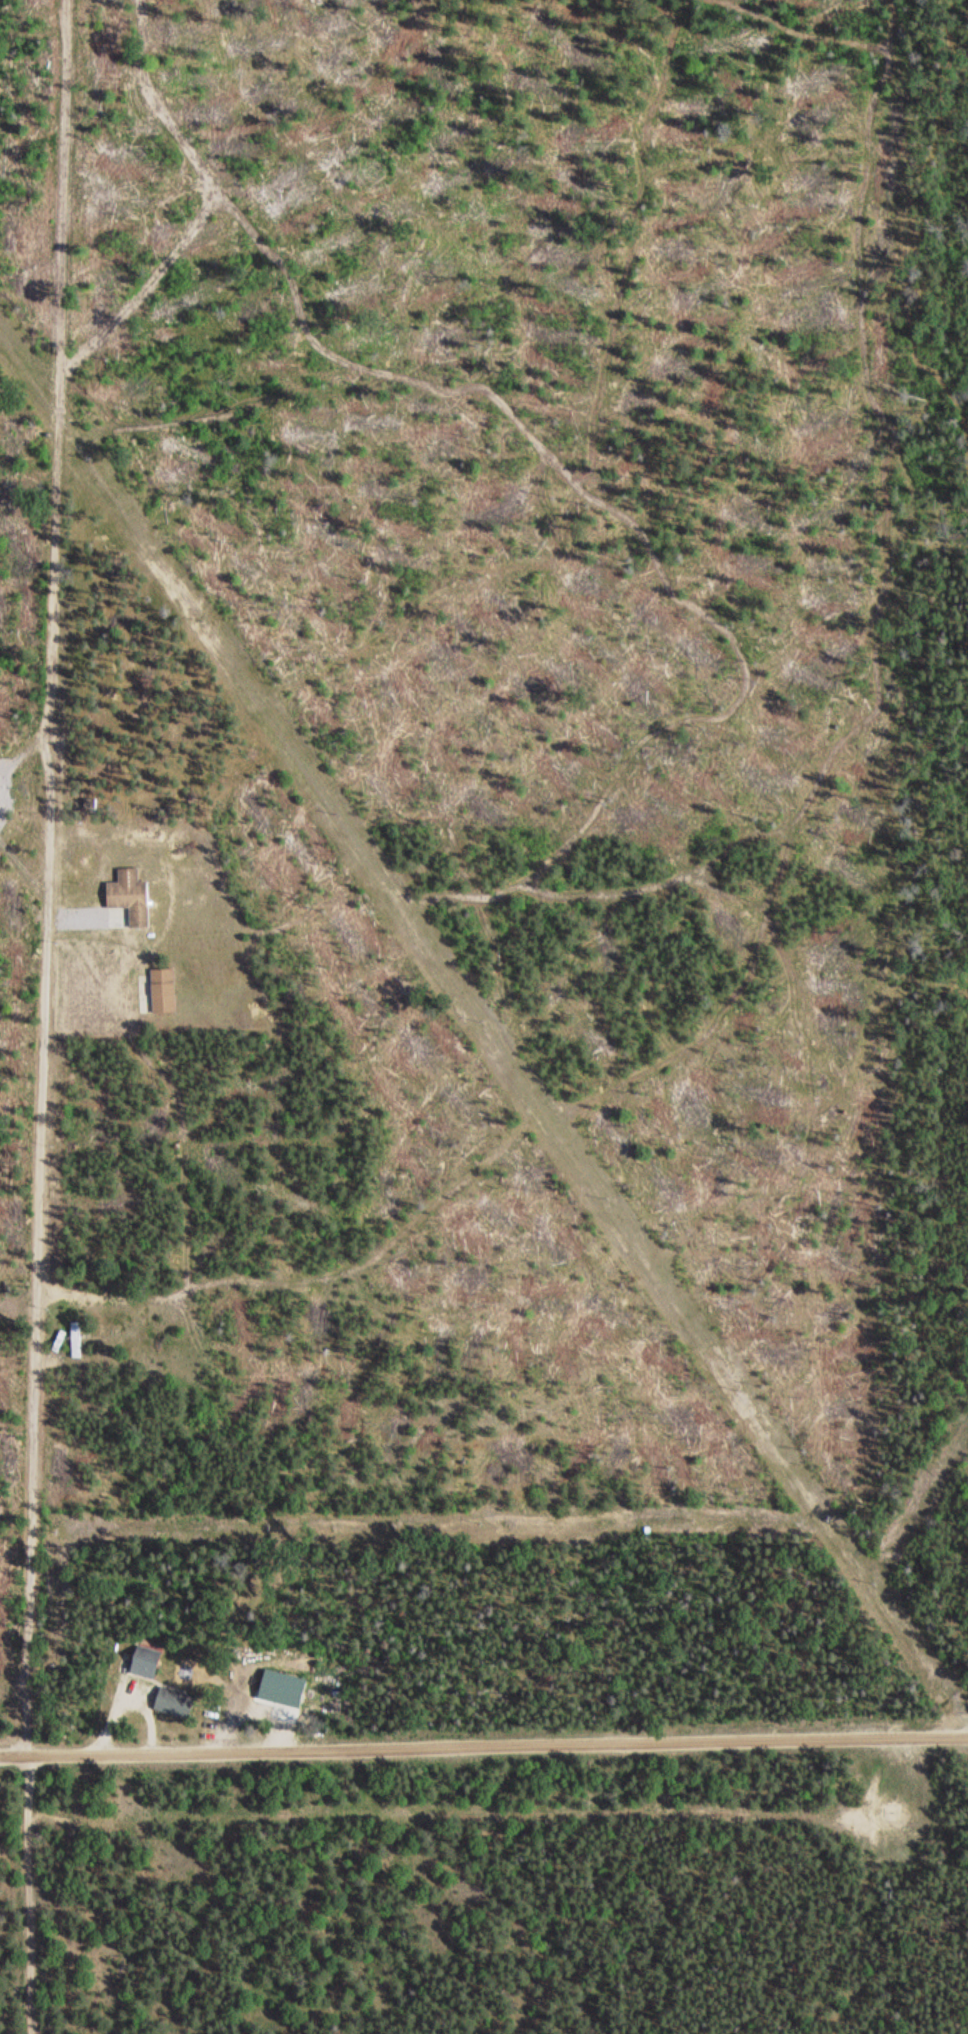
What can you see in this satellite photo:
road: (249, 452)
road: (47, 879)
building: (126, 901)
building: (157, 991)
road: (19, 1292)
building: (74, 1339)
building: (143, 1662)
road: (129, 1694)
building: (173, 1703)
road: (499, 1747)
road: (15, 1759)
road: (30, 1787)
road: (27, 1925)

